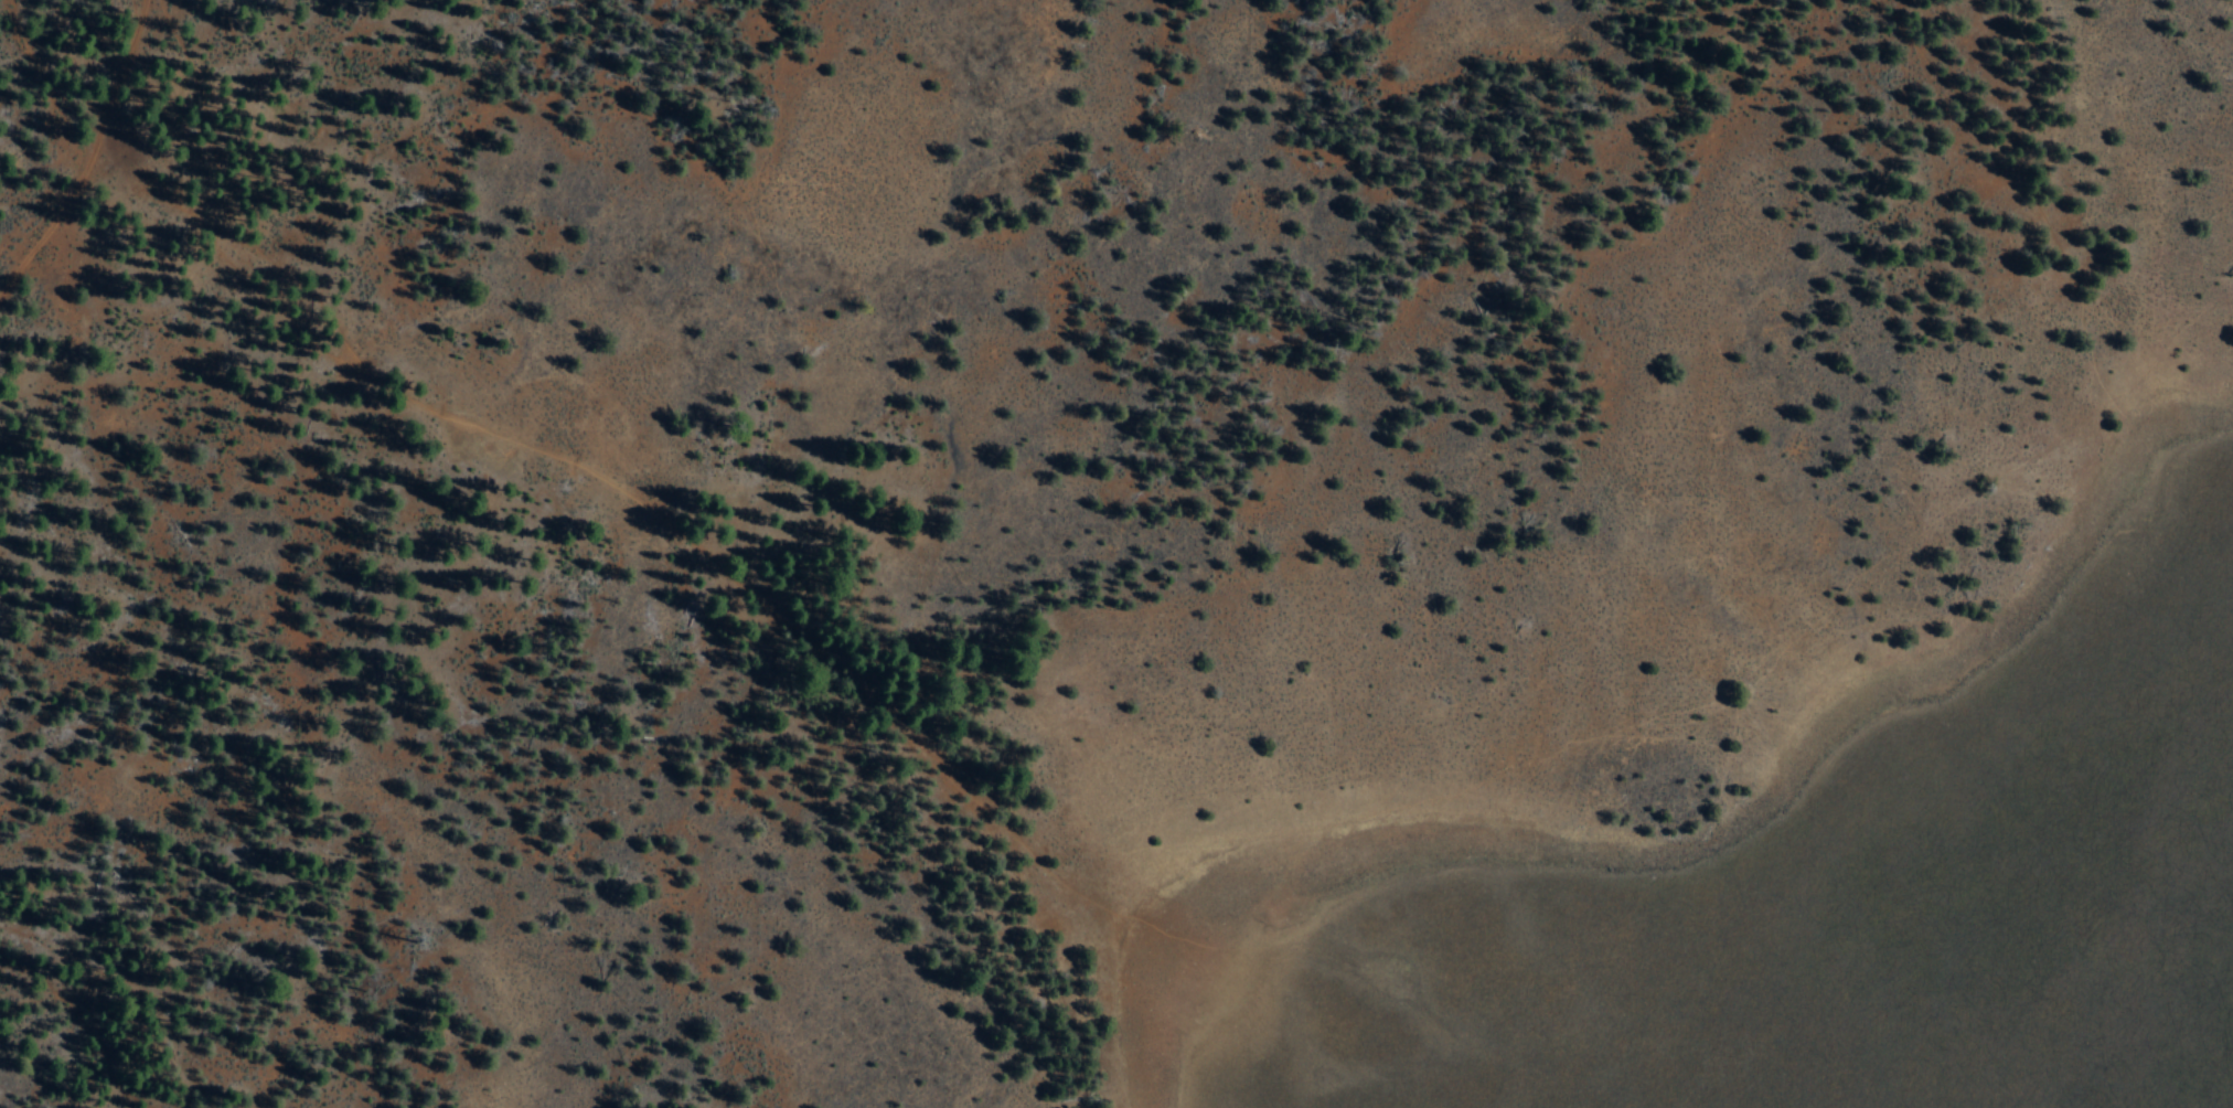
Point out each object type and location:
road: (83, 138)
road: (525, 437)

